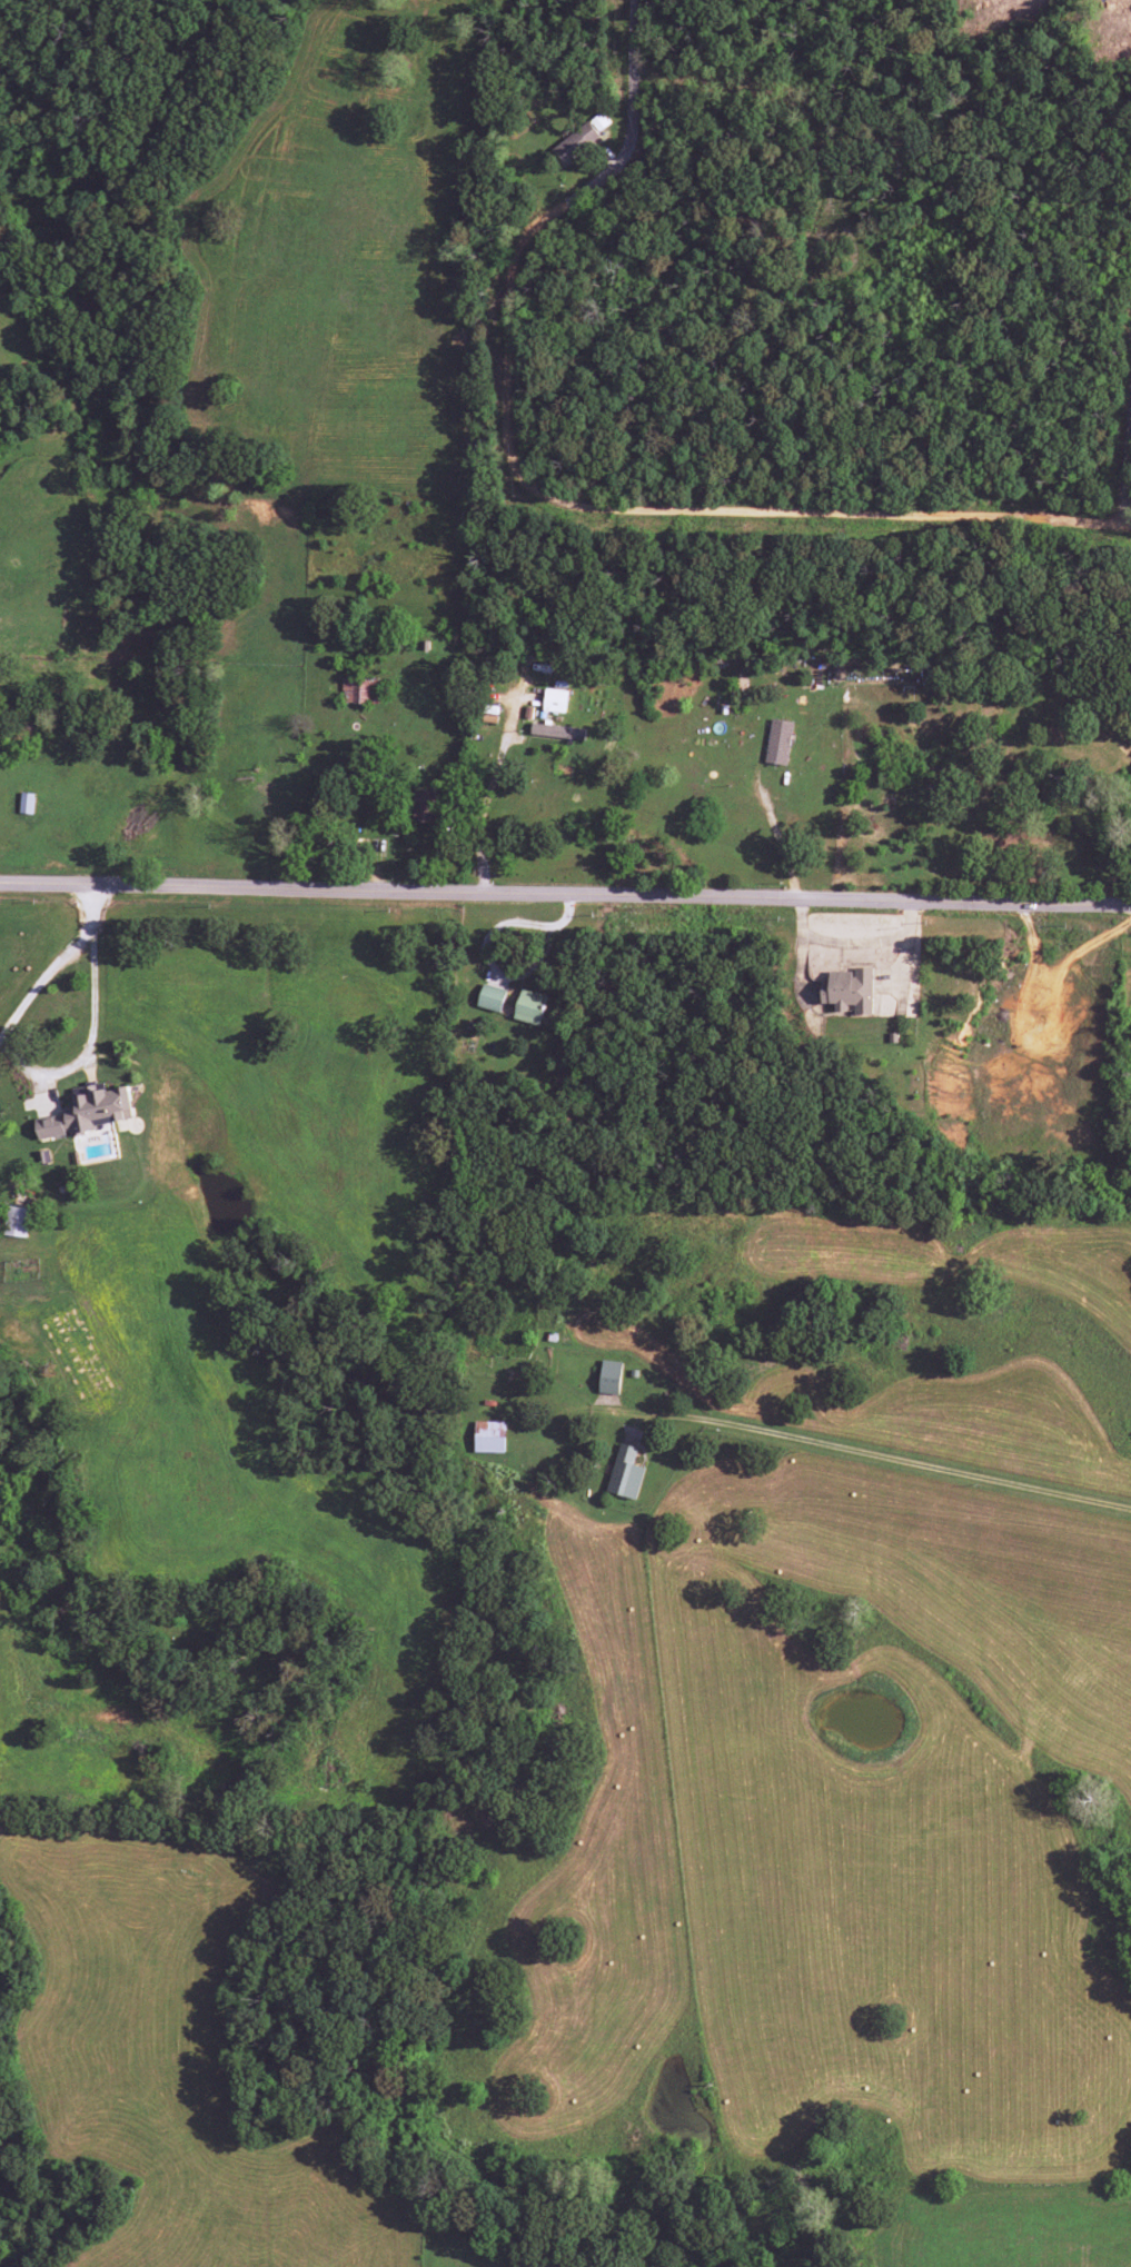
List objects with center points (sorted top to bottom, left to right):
road: (800, 103)
building: (598, 122)
building: (575, 143)
road: (557, 501)
road: (1130, 507)
building: (356, 689)
building: (554, 700)
building: (557, 732)
building: (778, 742)
building: (26, 803)
building: (424, 807)
road: (565, 893)
building: (849, 991)
building: (490, 997)
building: (530, 1007)
building: (88, 1113)
building: (14, 1221)
building: (609, 1378)
building: (489, 1436)
road: (882, 1459)
building: (625, 1473)

